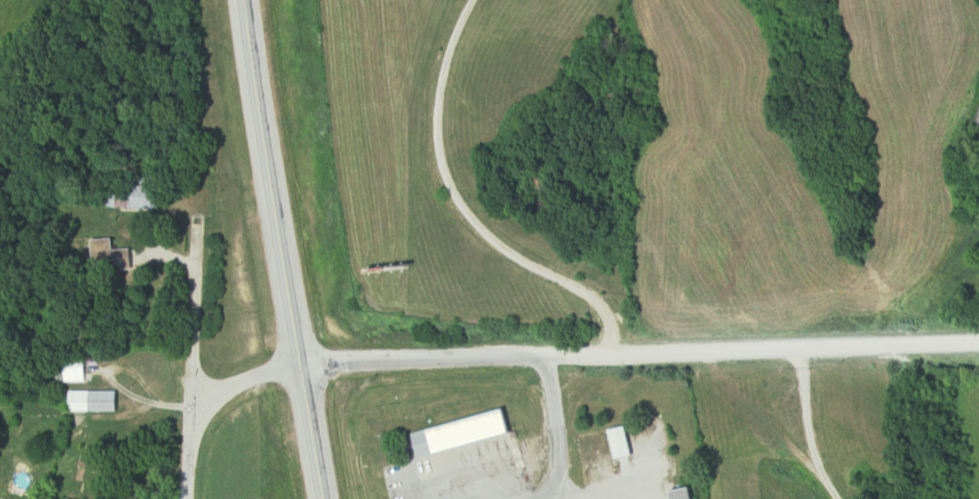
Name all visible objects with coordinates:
building: (142, 197)
road: (460, 208)
road: (266, 249)
building: (116, 256)
road: (638, 352)
road: (195, 359)
building: (76, 373)
road: (246, 385)
building: (95, 402)
road: (807, 427)
road: (554, 428)
building: (463, 434)
building: (624, 442)

